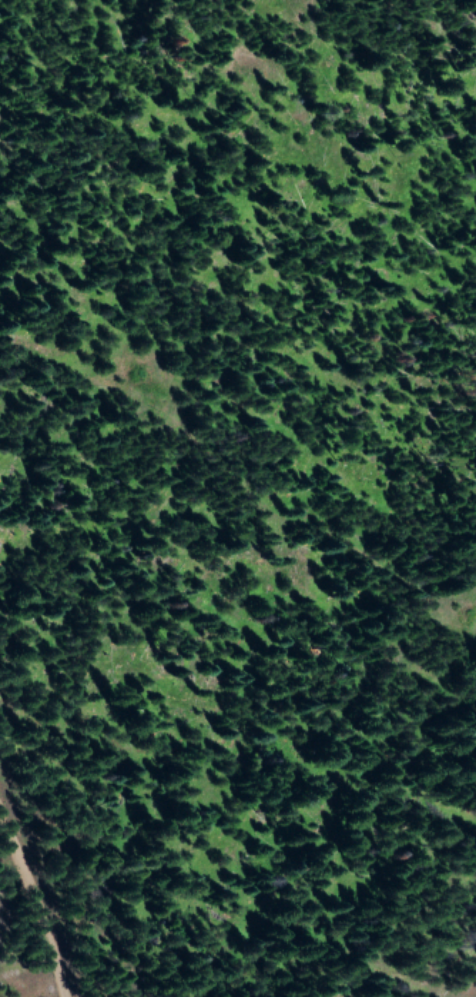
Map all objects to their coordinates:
road: (52, 842)

